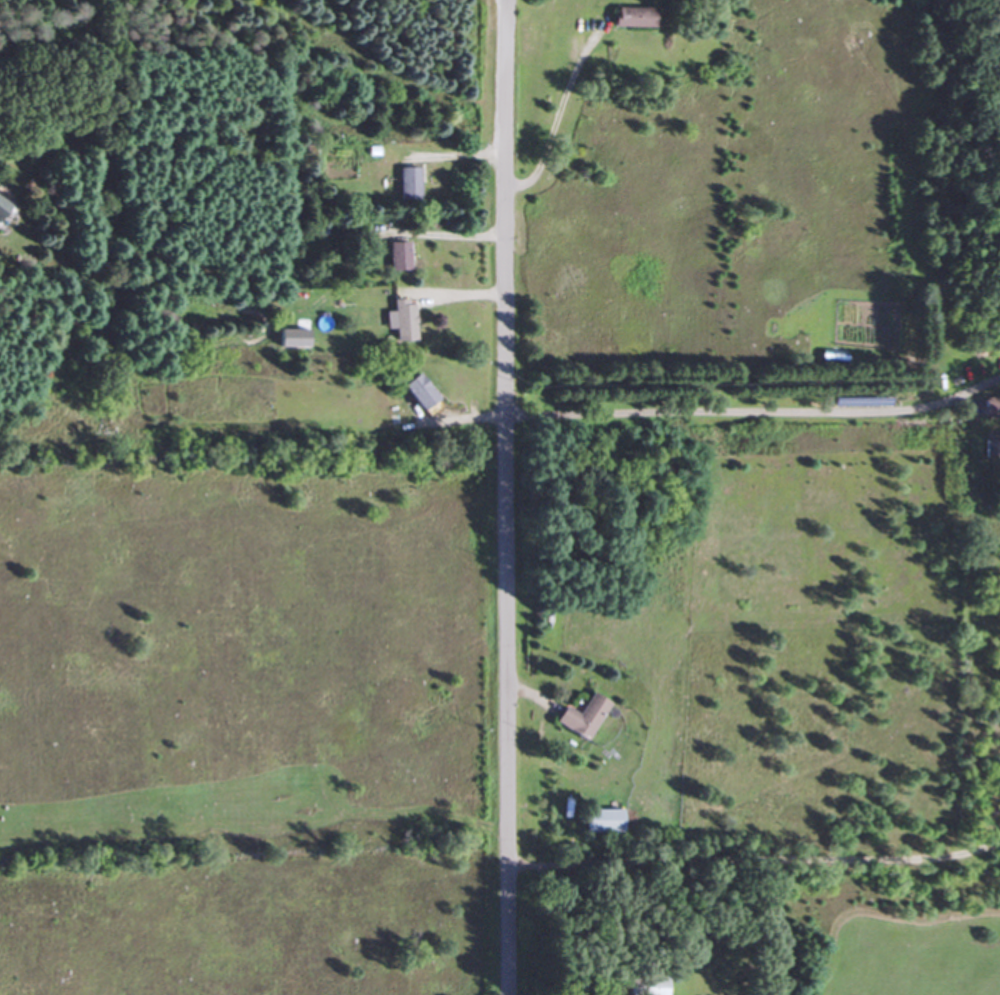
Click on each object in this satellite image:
building: (627, 18)
road: (553, 111)
building: (406, 183)
building: (3, 209)
road: (444, 233)
building: (394, 256)
building: (398, 320)
building: (414, 392)
building: (989, 406)
road: (753, 409)
road: (502, 497)
building: (579, 716)
building: (599, 820)
road: (753, 856)
building: (641, 983)

